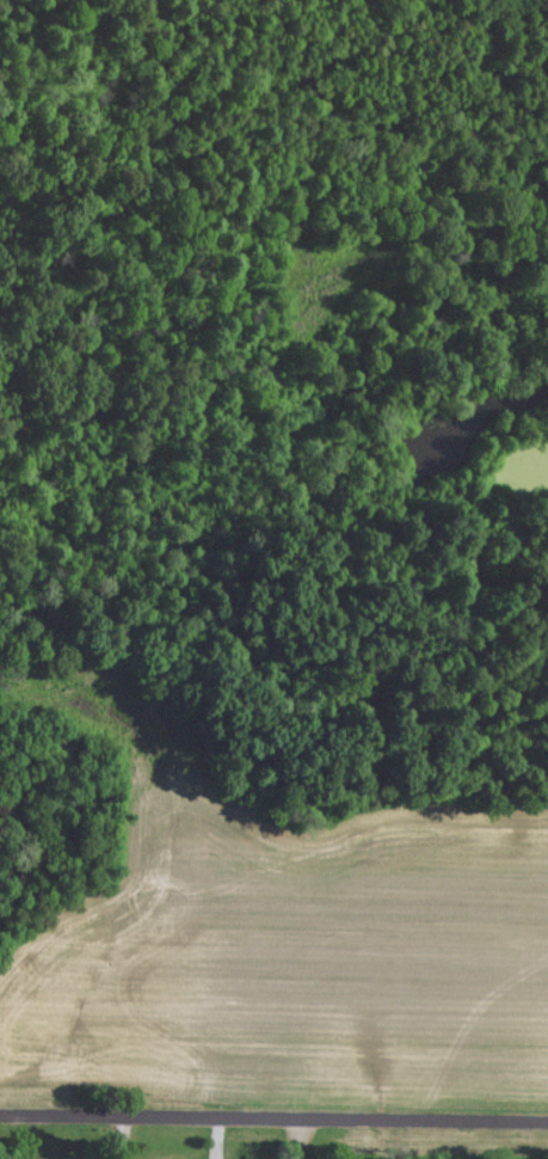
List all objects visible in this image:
road: (273, 1112)
road: (129, 1134)

